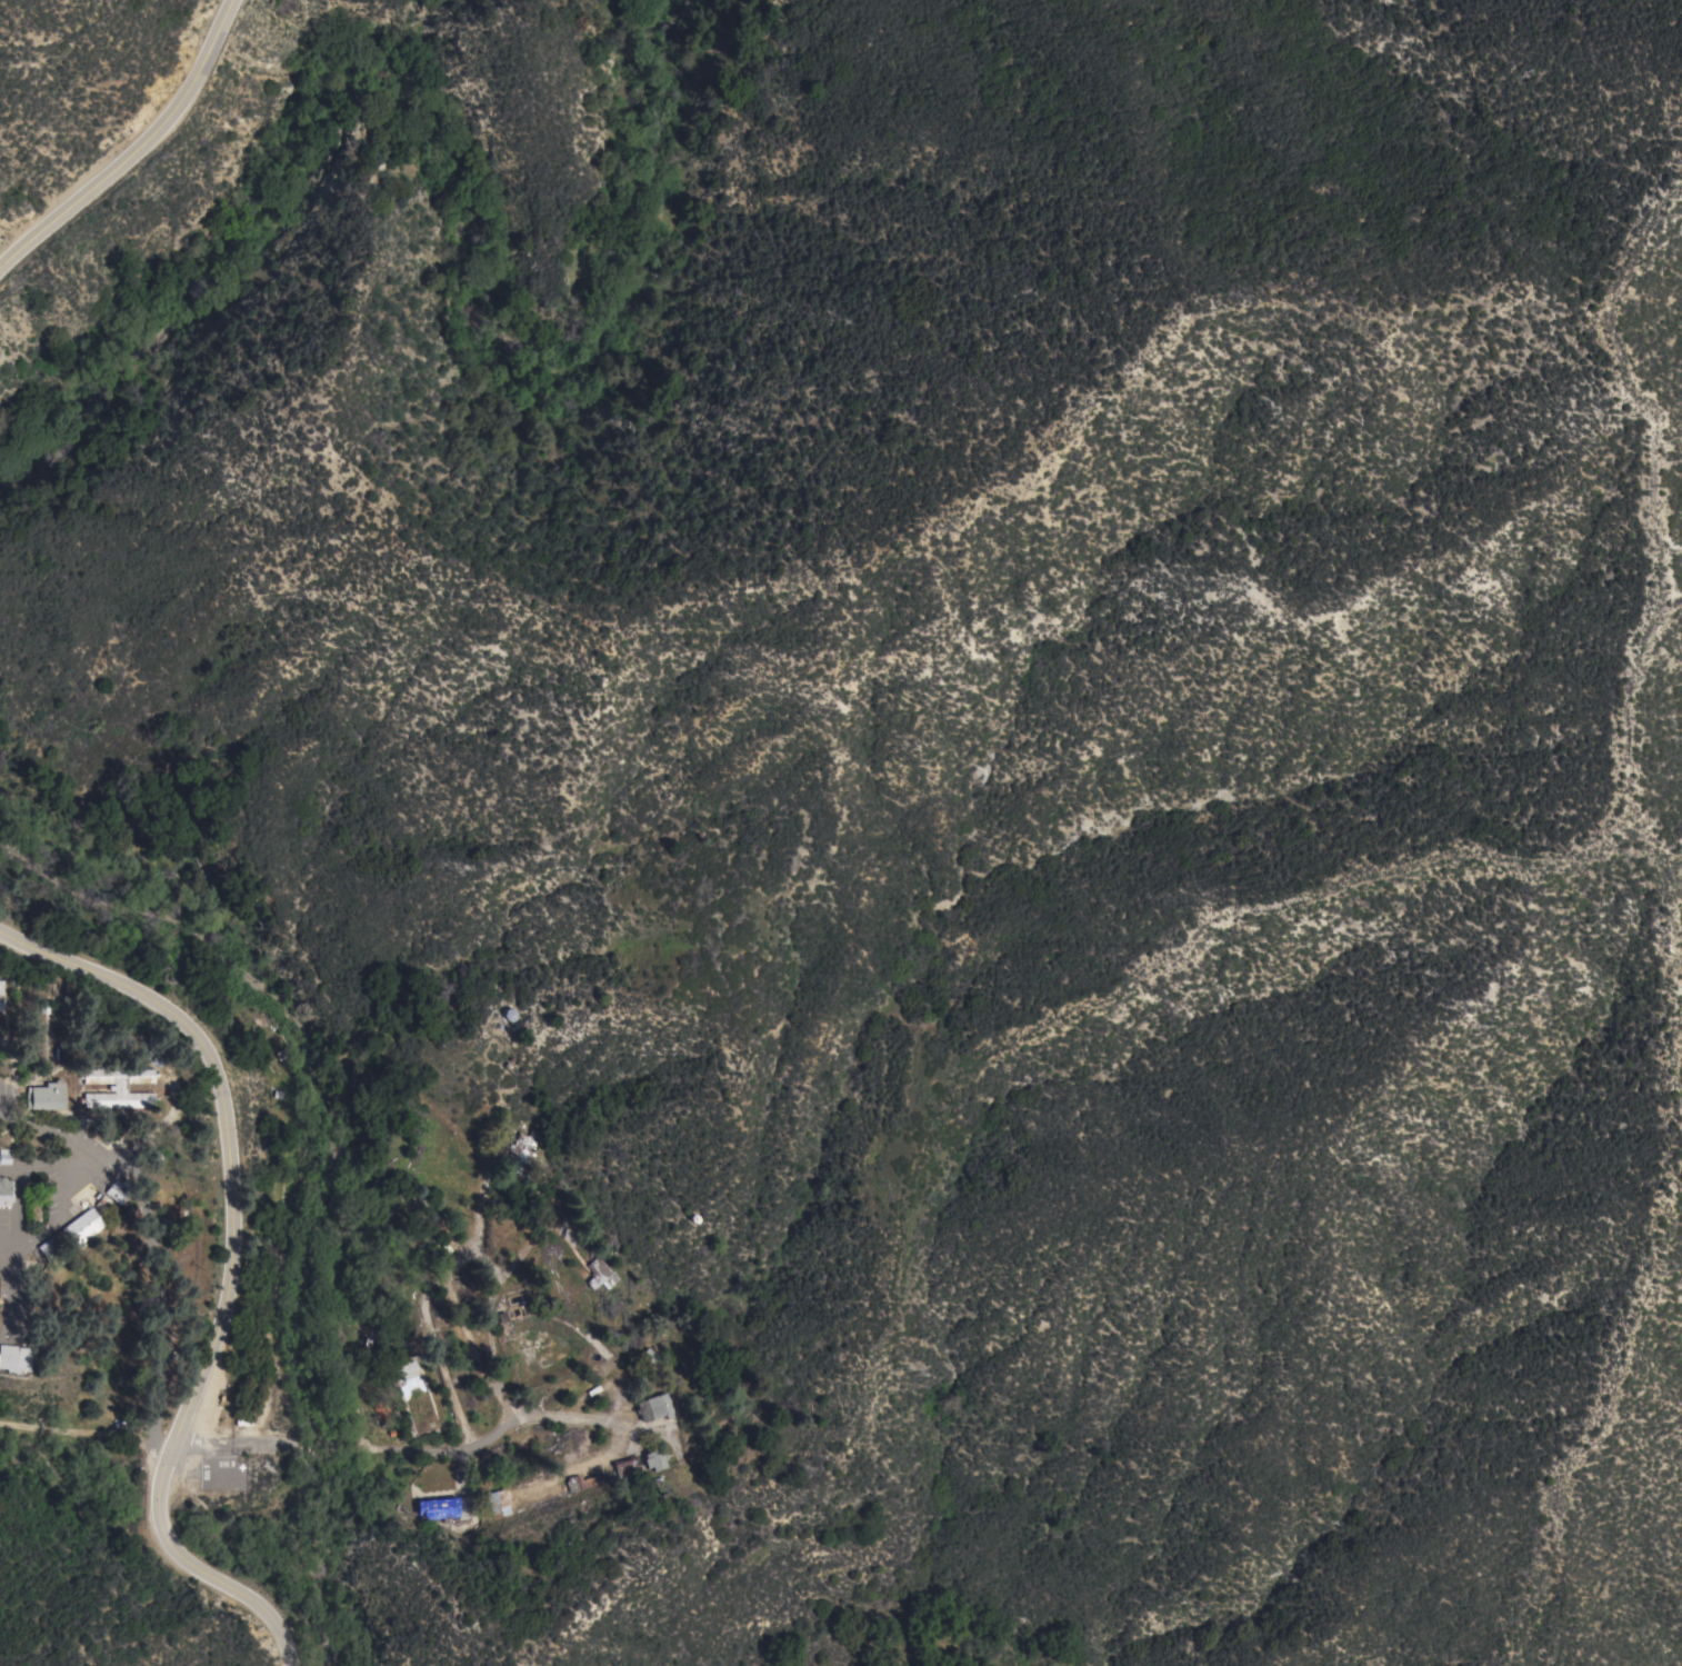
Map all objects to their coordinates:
road: (134, 150)
building: (1, 997)
building: (260, 1021)
building: (282, 1055)
building: (118, 1088)
building: (46, 1096)
building: (520, 1155)
building: (4, 1156)
building: (6, 1191)
building: (119, 1191)
building: (71, 1234)
road: (230, 1271)
building: (600, 1274)
building: (649, 1356)
building: (14, 1358)
building: (407, 1370)
building: (653, 1407)
building: (382, 1415)
road: (528, 1416)
road: (84, 1431)
road: (187, 1444)
building: (654, 1459)
building: (627, 1466)
building: (579, 1484)
building: (498, 1505)
building: (447, 1508)
wastewater plant: (564, 1545)

